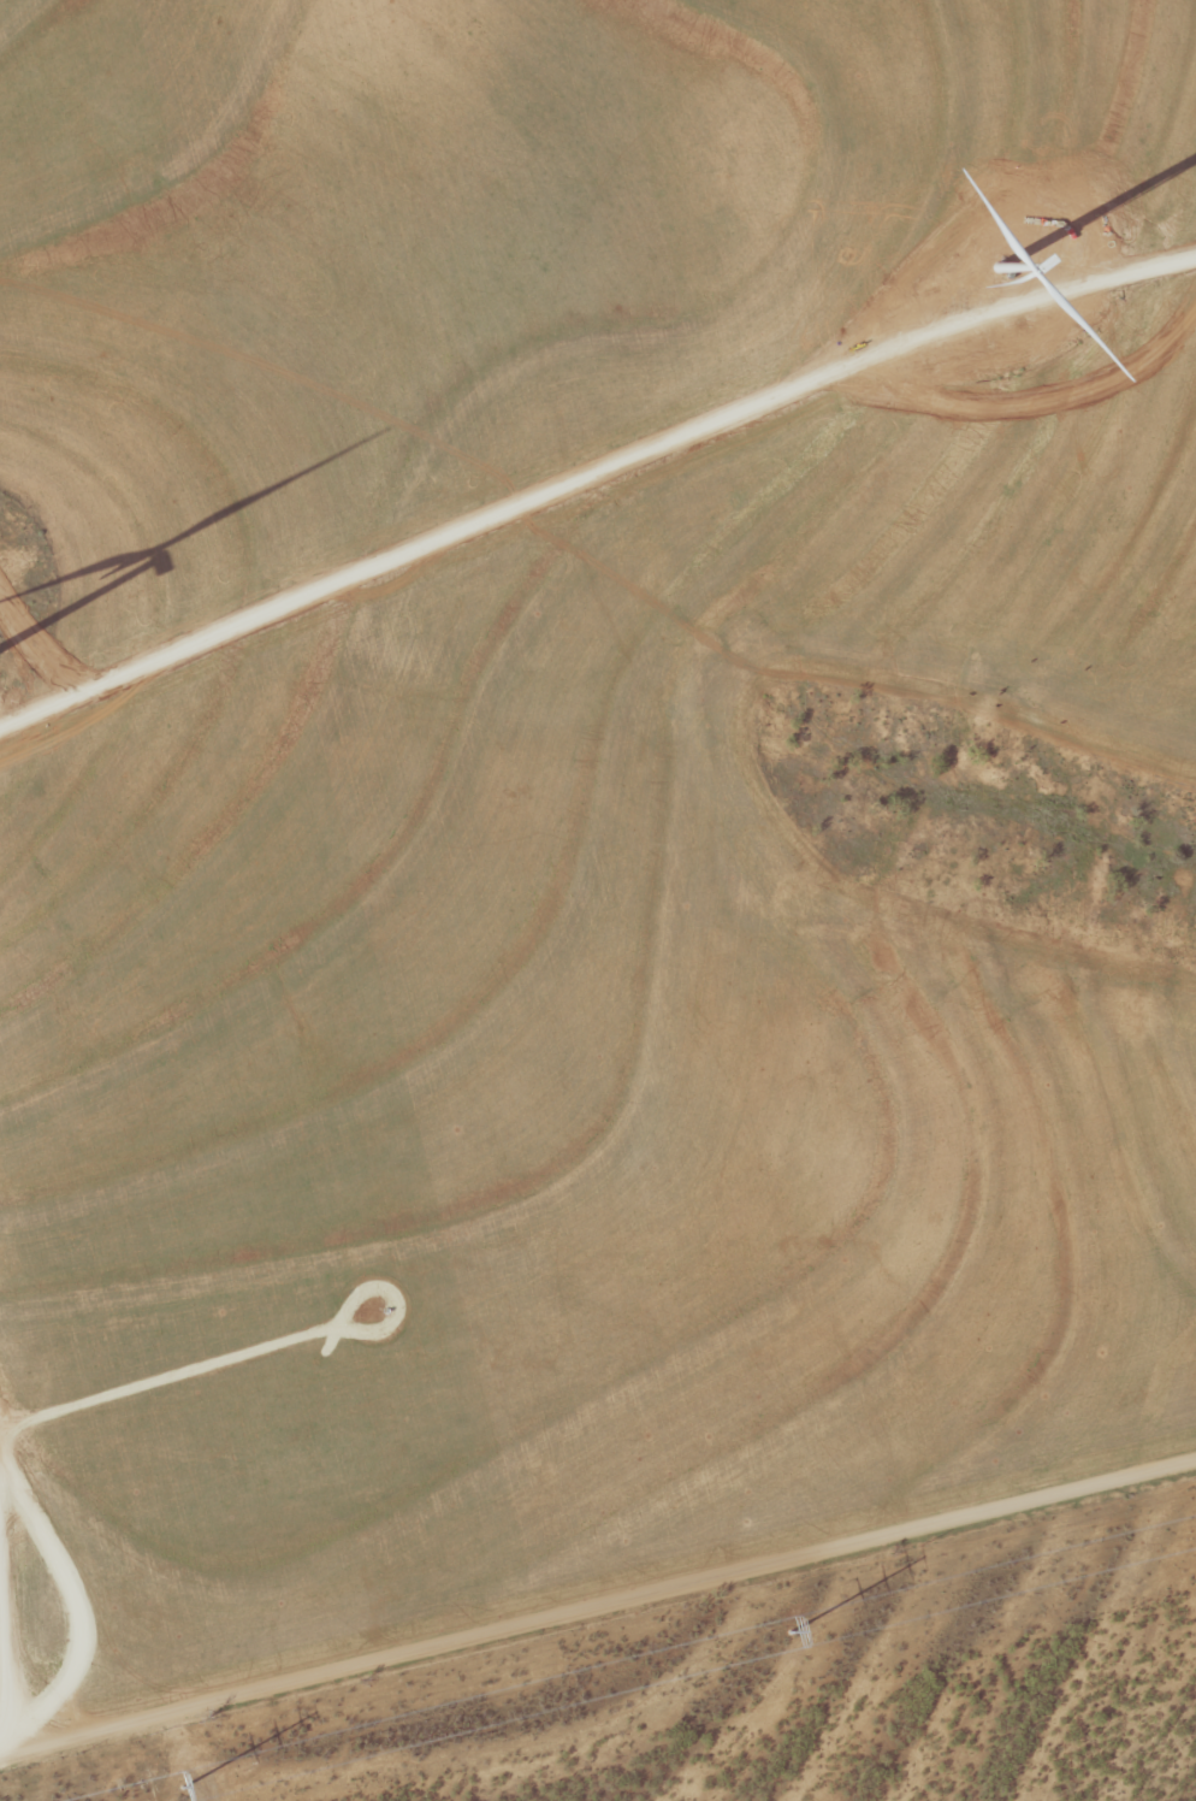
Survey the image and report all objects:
wind turbine: (995, 270)
road: (592, 471)
road: (1173, 646)
road: (673, 992)
road: (599, 1618)
power tower: (789, 1631)
road: (1, 1746)
power tower: (184, 1785)

